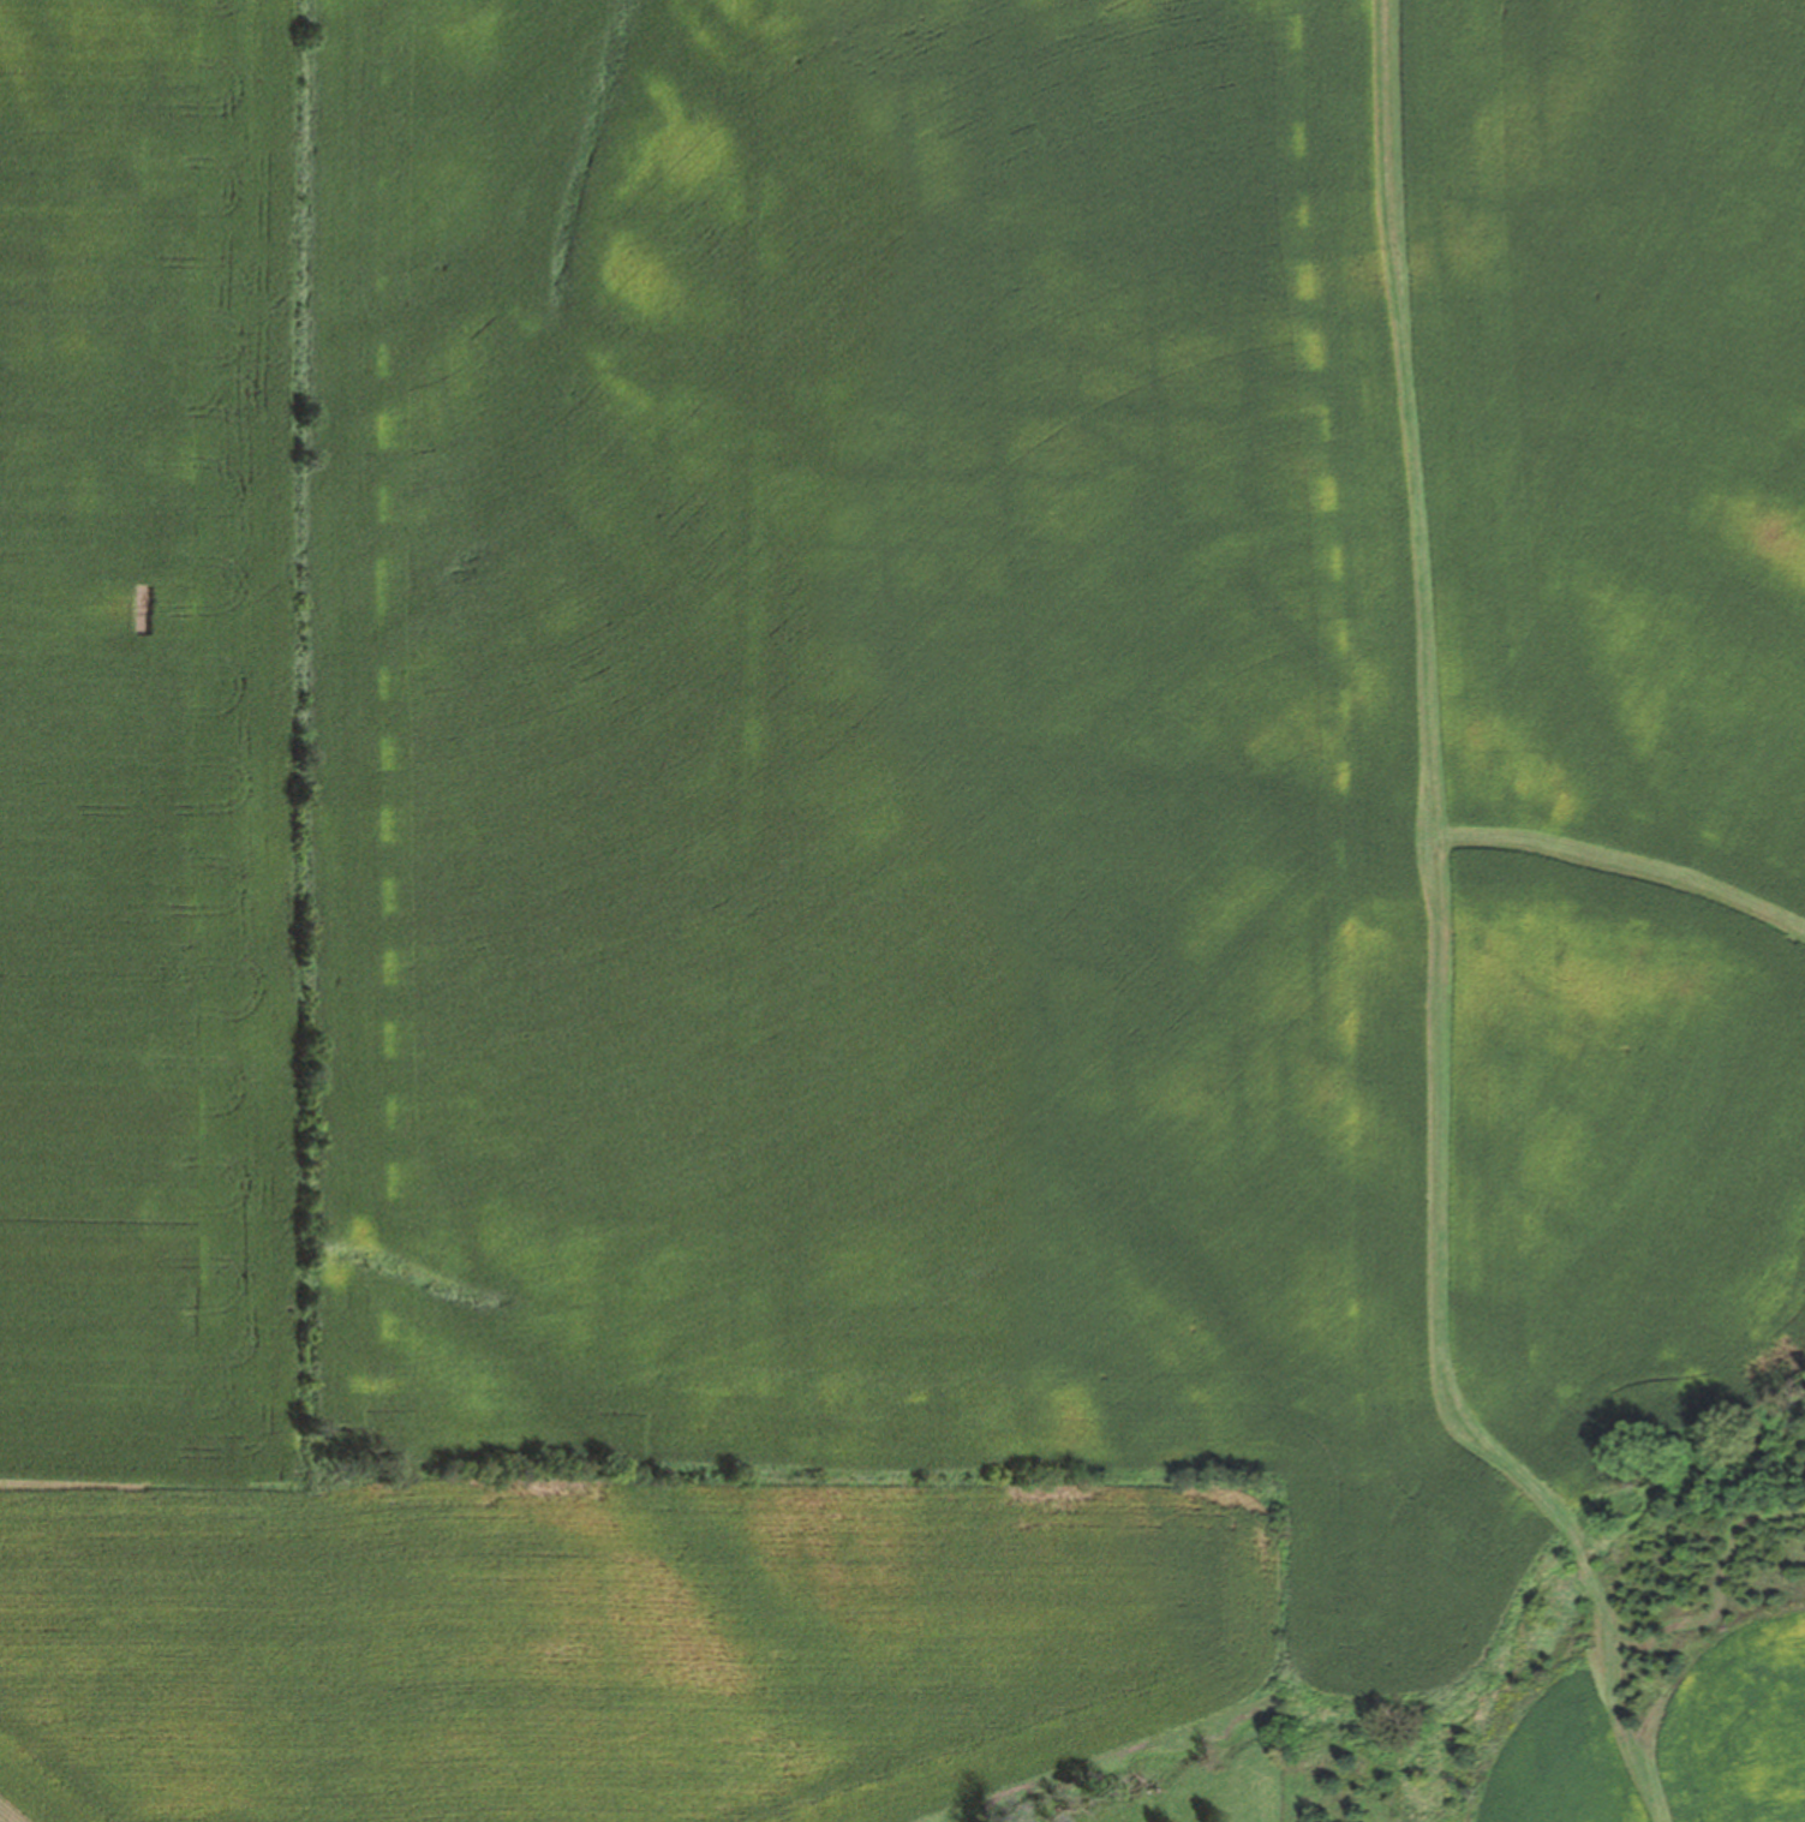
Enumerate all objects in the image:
road: (1439, 955)

